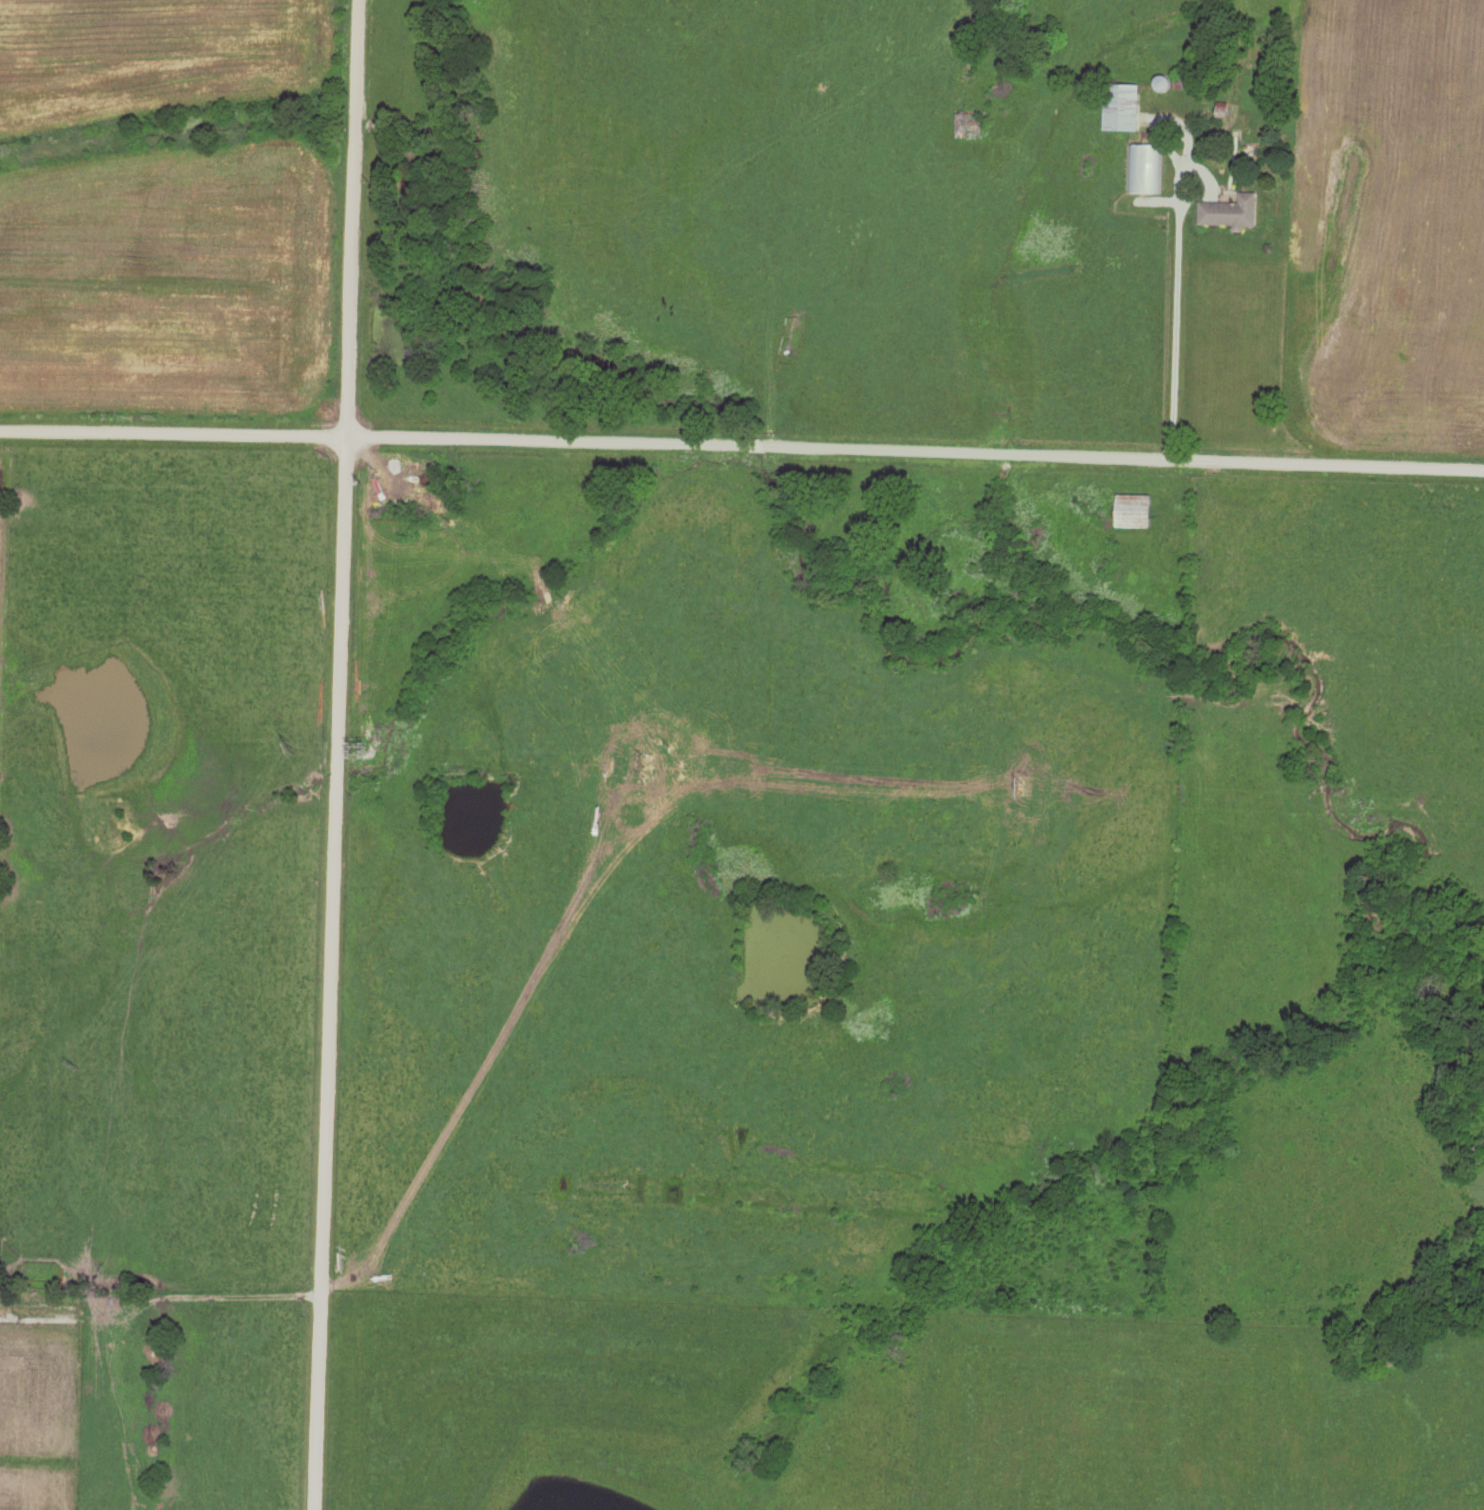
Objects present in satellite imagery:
building: (1119, 108)
building: (968, 126)
building: (1142, 169)
building: (1228, 213)
road: (349, 218)
road: (1174, 305)
road: (742, 439)
building: (1132, 511)
road: (324, 973)

